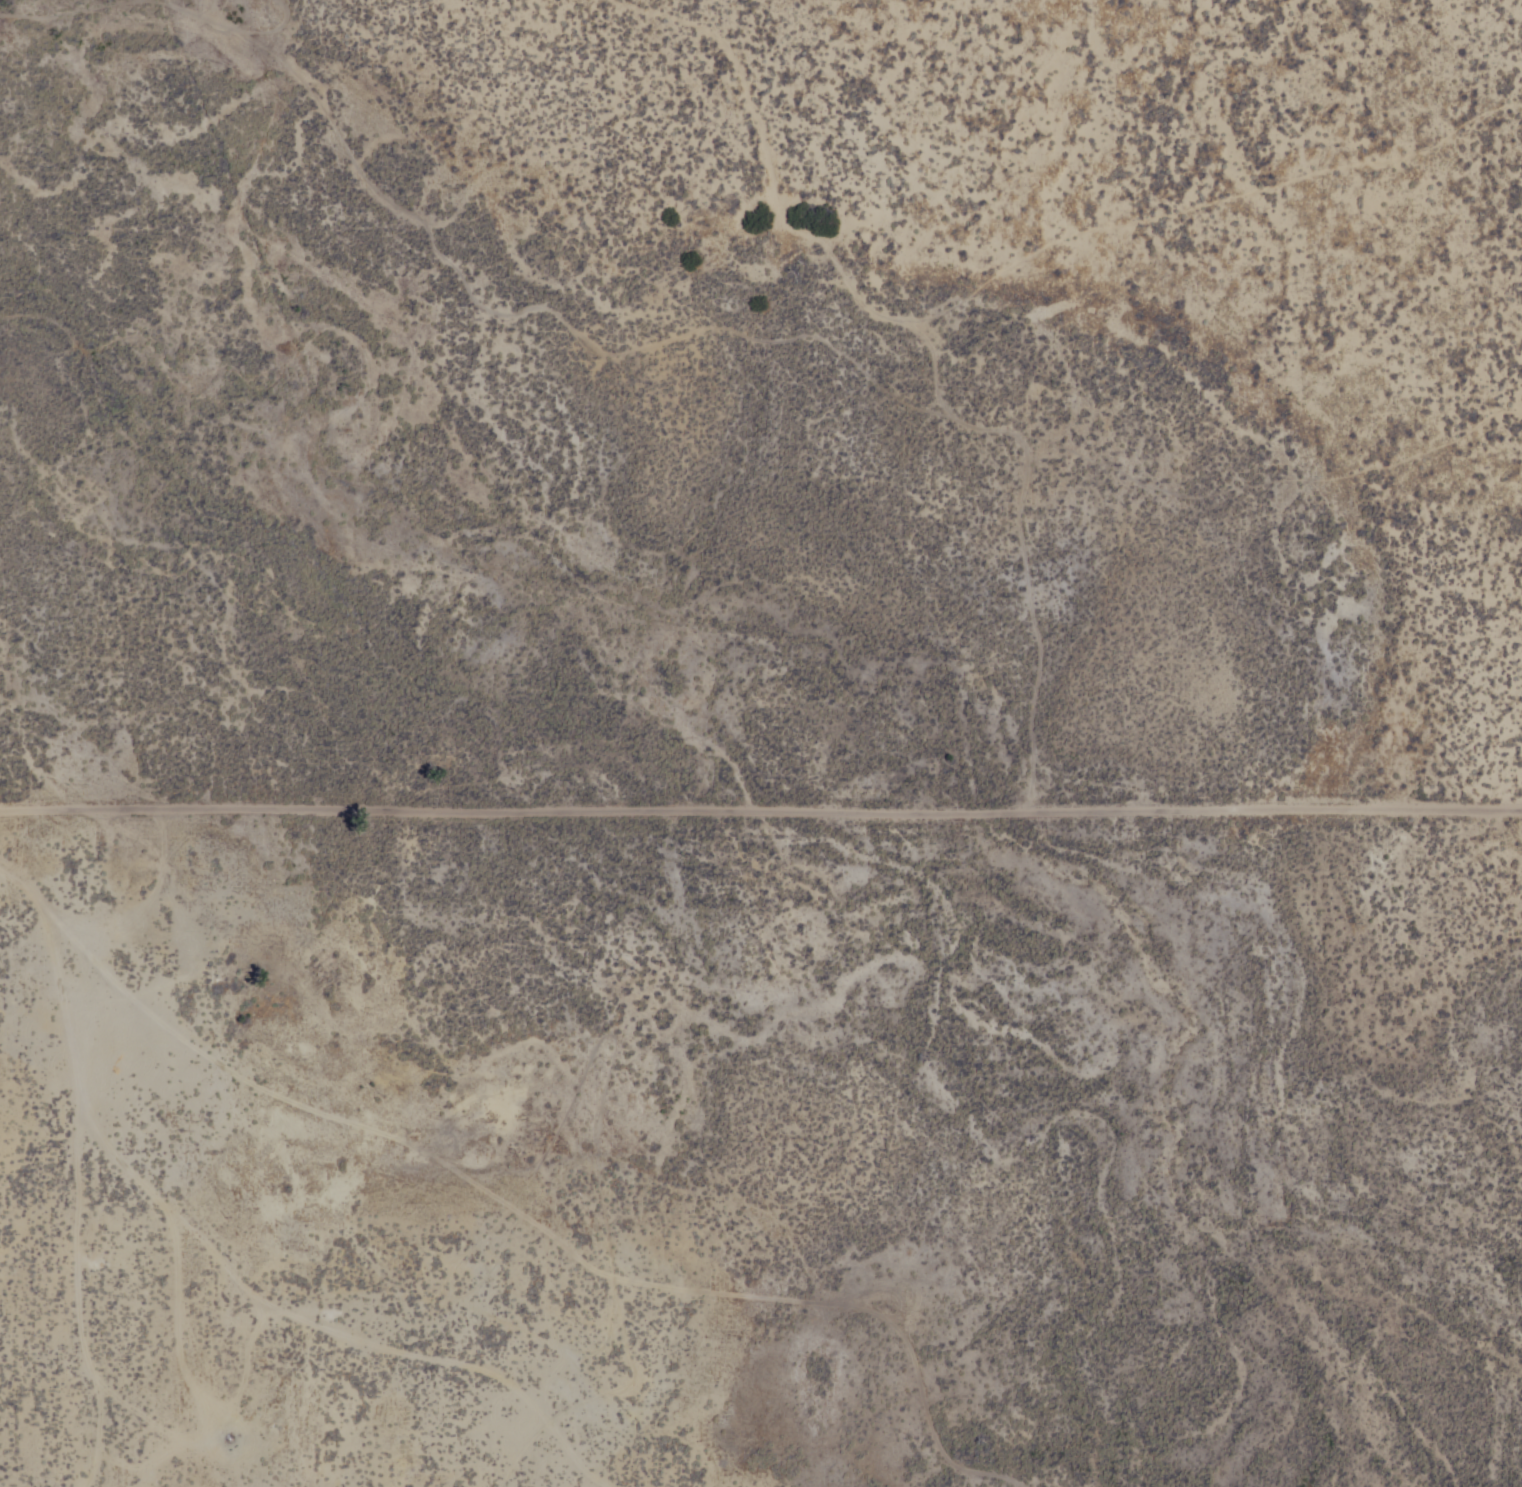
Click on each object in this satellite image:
road: (761, 807)
road: (523, 1206)
road: (257, 1286)
road: (87, 1304)

